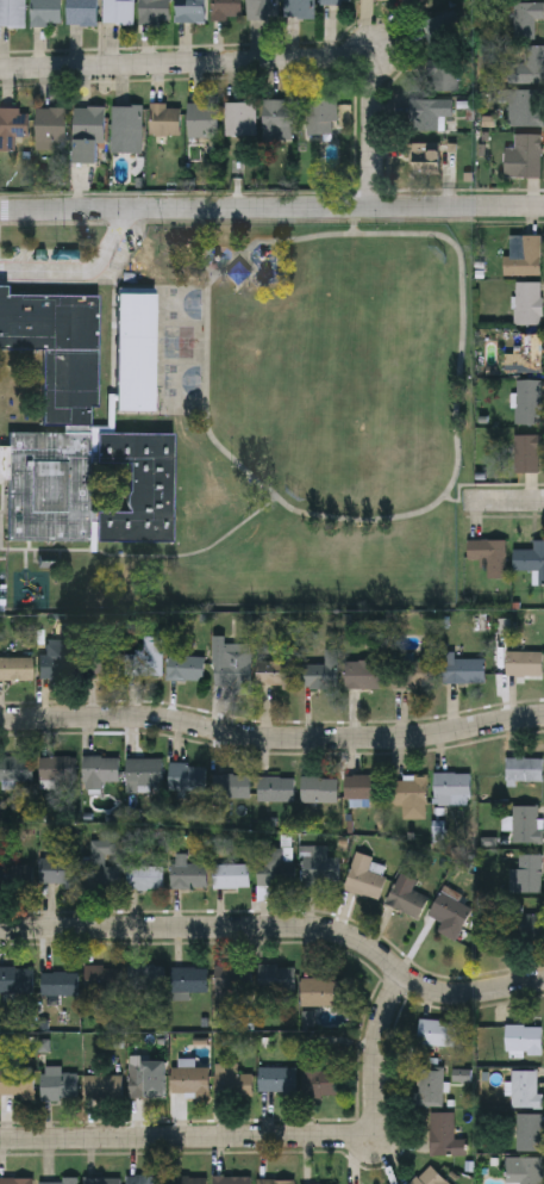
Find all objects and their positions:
building: (336, 1)
building: (420, 2)
building: (262, 7)
building: (226, 8)
building: (299, 8)
building: (118, 11)
building: (154, 11)
building: (190, 11)
building: (12, 12)
building: (45, 12)
building: (82, 12)
building: (525, 17)
building: (444, 29)
road: (254, 63)
building: (530, 64)
building: (444, 74)
building: (530, 106)
building: (430, 110)
building: (321, 113)
building: (164, 117)
building: (202, 117)
building: (240, 117)
building: (277, 118)
building: (12, 124)
building: (51, 126)
building: (126, 126)
building: (88, 132)
building: (529, 154)
building: (427, 163)
road: (271, 209)
building: (525, 256)
road: (82, 268)
building: (529, 302)
building: (525, 354)
building: (529, 401)
building: (5, 402)
building: (86, 423)
building: (527, 452)
road: (506, 502)
building: (489, 554)
building: (532, 559)
building: (57, 661)
building: (524, 664)
building: (124, 665)
building: (15, 668)
building: (185, 668)
building: (233, 670)
building: (463, 670)
building: (276, 674)
building: (415, 674)
building: (319, 675)
building: (365, 675)
road: (271, 738)
building: (55, 768)
building: (15, 770)
building: (100, 770)
building: (525, 770)
building: (144, 773)
building: (187, 777)
building: (231, 787)
building: (363, 787)
building: (451, 787)
building: (275, 789)
building: (320, 789)
building: (408, 791)
building: (526, 825)
building: (274, 869)
building: (323, 869)
building: (55, 872)
building: (101, 873)
building: (14, 874)
building: (526, 875)
building: (189, 878)
building: (231, 878)
building: (144, 879)
building: (365, 880)
building: (407, 901)
building: (451, 912)
building: (529, 926)
road: (283, 929)
building: (148, 978)
building: (233, 978)
building: (276, 978)
building: (15, 980)
building: (102, 981)
building: (189, 981)
building: (60, 985)
building: (323, 993)
building: (437, 1034)
building: (524, 1042)
building: (148, 1080)
building: (277, 1080)
building: (189, 1081)
building: (17, 1083)
building: (231, 1083)
building: (323, 1083)
building: (58, 1087)
building: (102, 1087)
building: (430, 1090)
building: (525, 1091)
building: (530, 1134)
building: (444, 1136)
road: (269, 1137)
building: (524, 1171)
building: (145, 1180)
building: (188, 1180)
building: (231, 1180)
building: (15, 1182)
building: (58, 1182)
building: (102, 1182)
building: (275, 1182)

